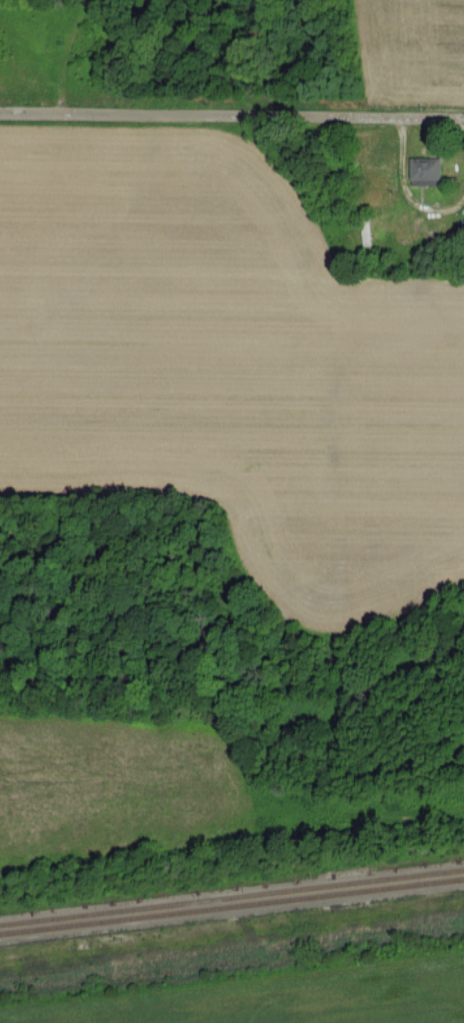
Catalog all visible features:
road: (232, 114)
crop: (228, 367)
crop: (118, 786)
railway: (232, 897)
railway: (231, 906)

